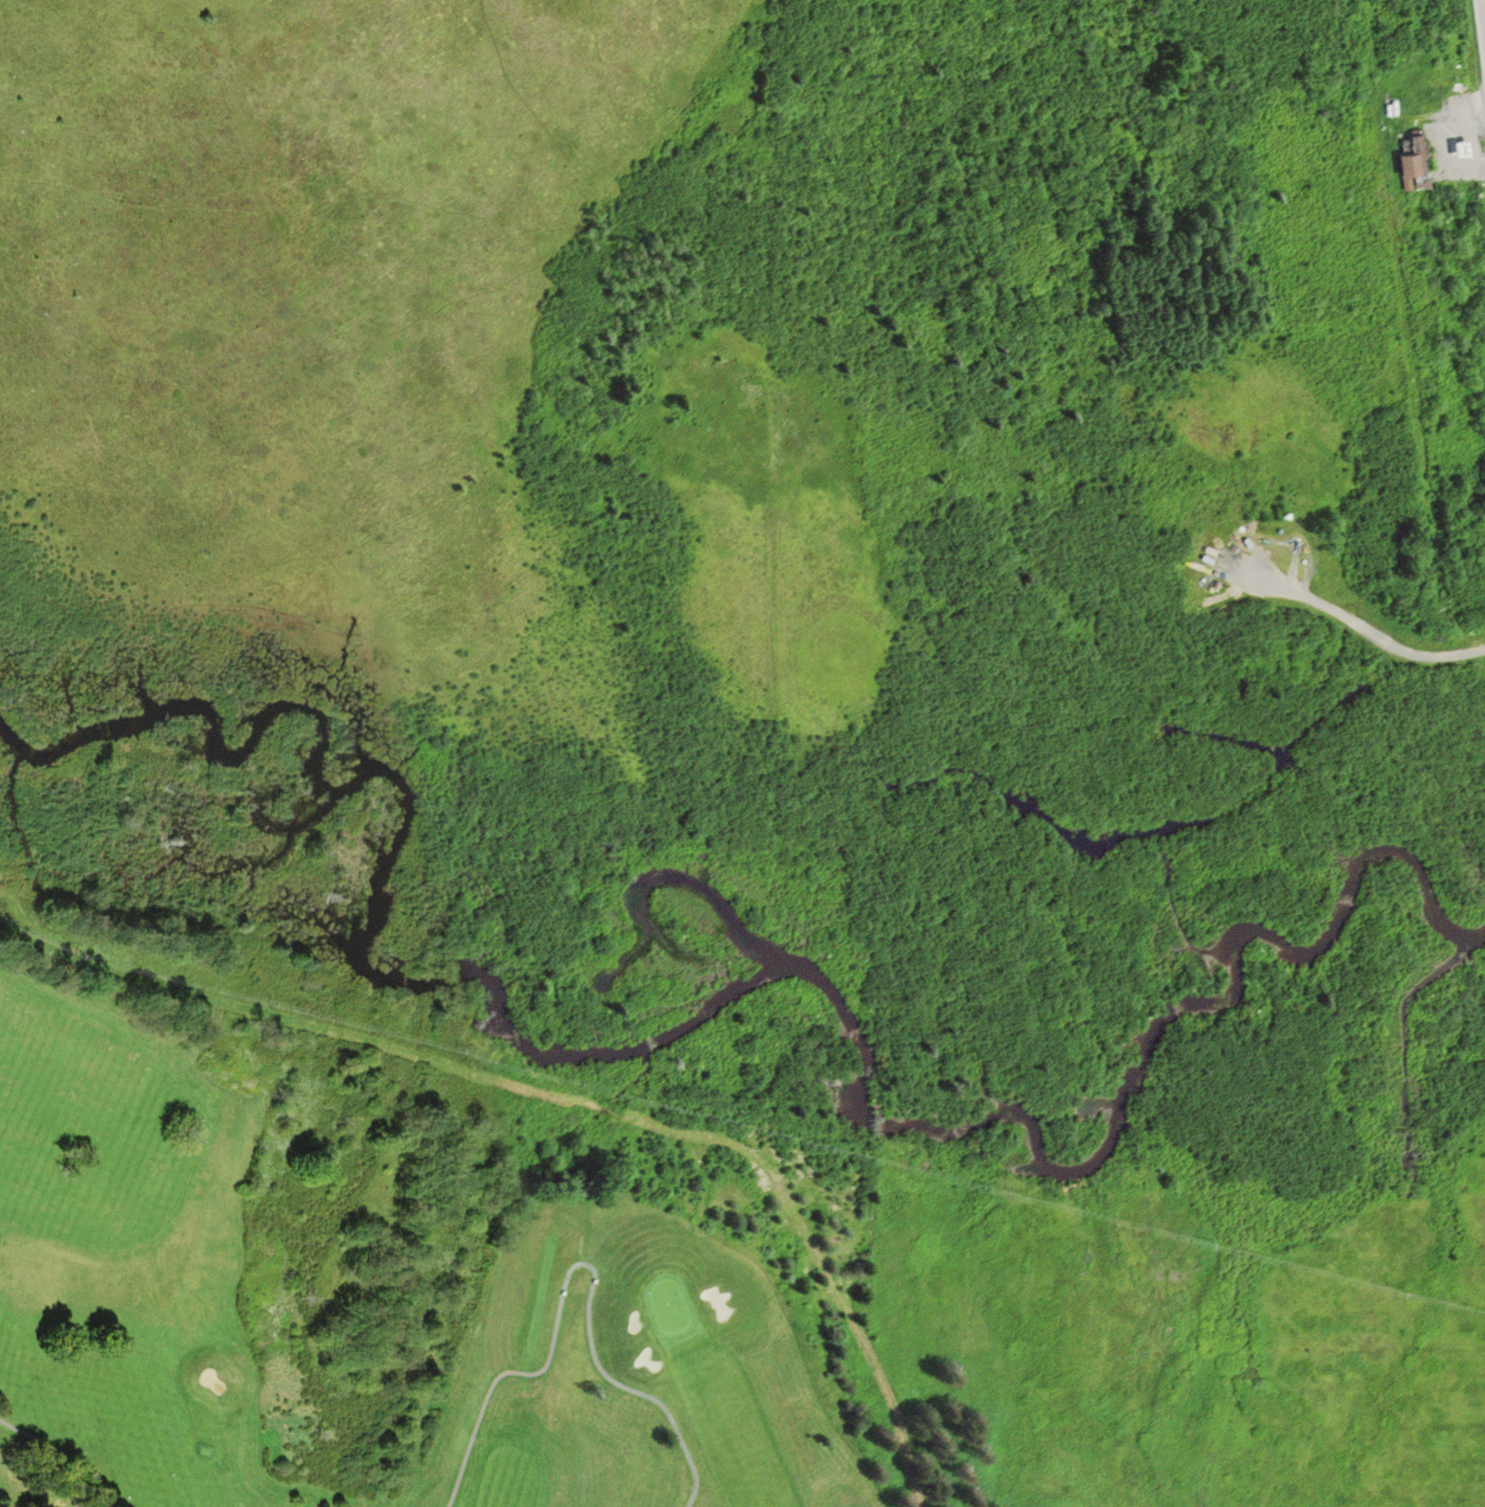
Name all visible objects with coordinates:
road: (1483, 8)
road: (1443, 147)
building: (1410, 153)
road: (1357, 626)
river: (759, 961)
park: (116, 1266)
road: (581, 1266)
park: (635, 1376)
road: (52, 1452)

